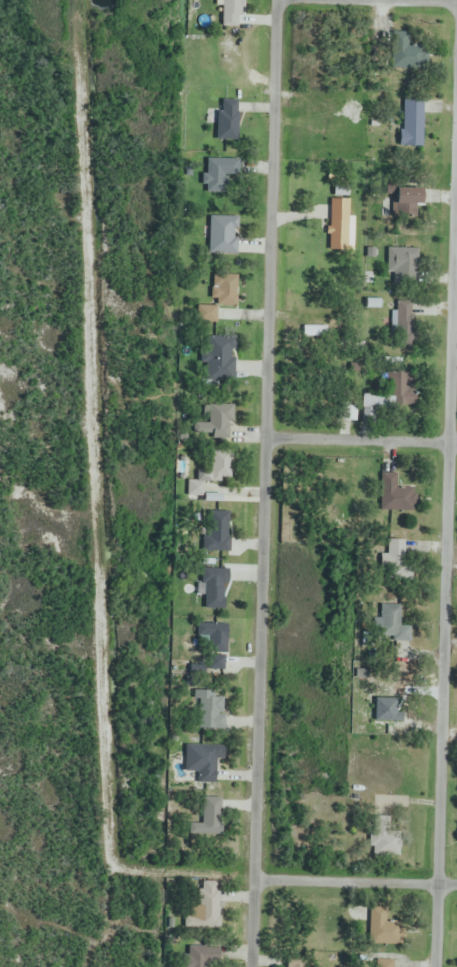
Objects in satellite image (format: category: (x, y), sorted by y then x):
road: (366, 2)
building: (407, 49)
building: (227, 118)
building: (412, 123)
building: (221, 174)
building: (407, 201)
building: (341, 225)
building: (223, 235)
building: (402, 263)
building: (225, 289)
building: (402, 320)
building: (220, 359)
building: (388, 397)
building: (348, 411)
building: (215, 422)
road: (359, 444)
building: (220, 467)
road: (261, 483)
building: (396, 494)
building: (216, 531)
road: (442, 554)
building: (397, 560)
building: (213, 588)
building: (390, 622)
building: (214, 637)
building: (390, 697)
building: (209, 710)
building: (208, 764)
building: (208, 818)
building: (385, 840)
road: (354, 882)
building: (205, 908)
building: (385, 927)
building: (201, 956)
building: (297, 961)
building: (383, 963)

